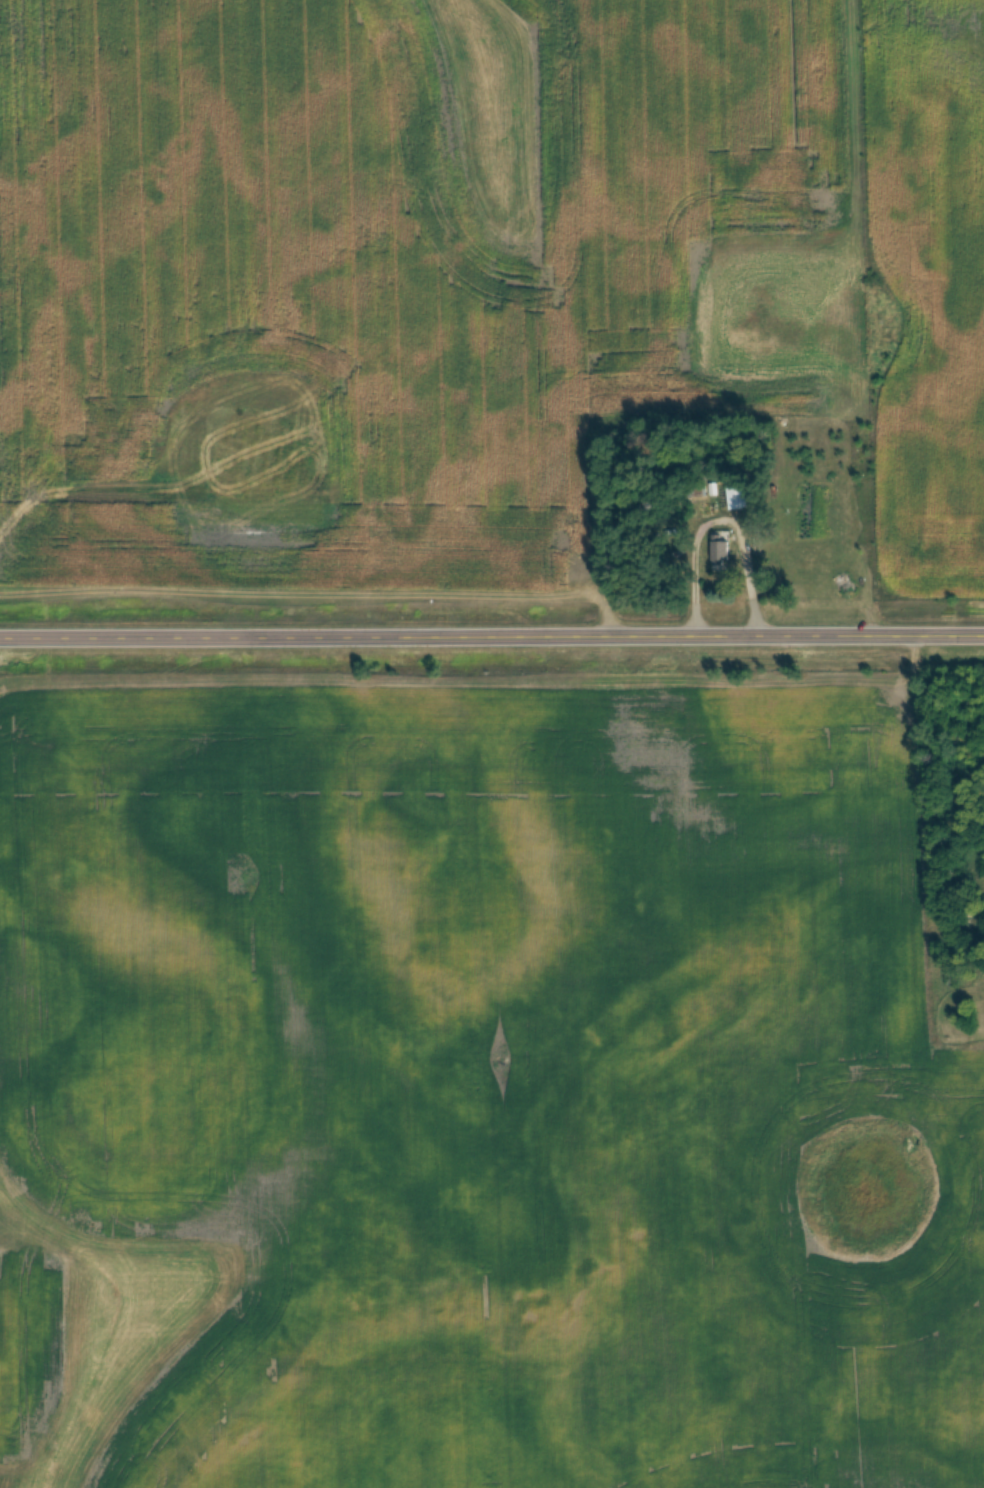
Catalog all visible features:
building: (737, 499)
road: (722, 517)
building: (719, 553)
road: (491, 636)

